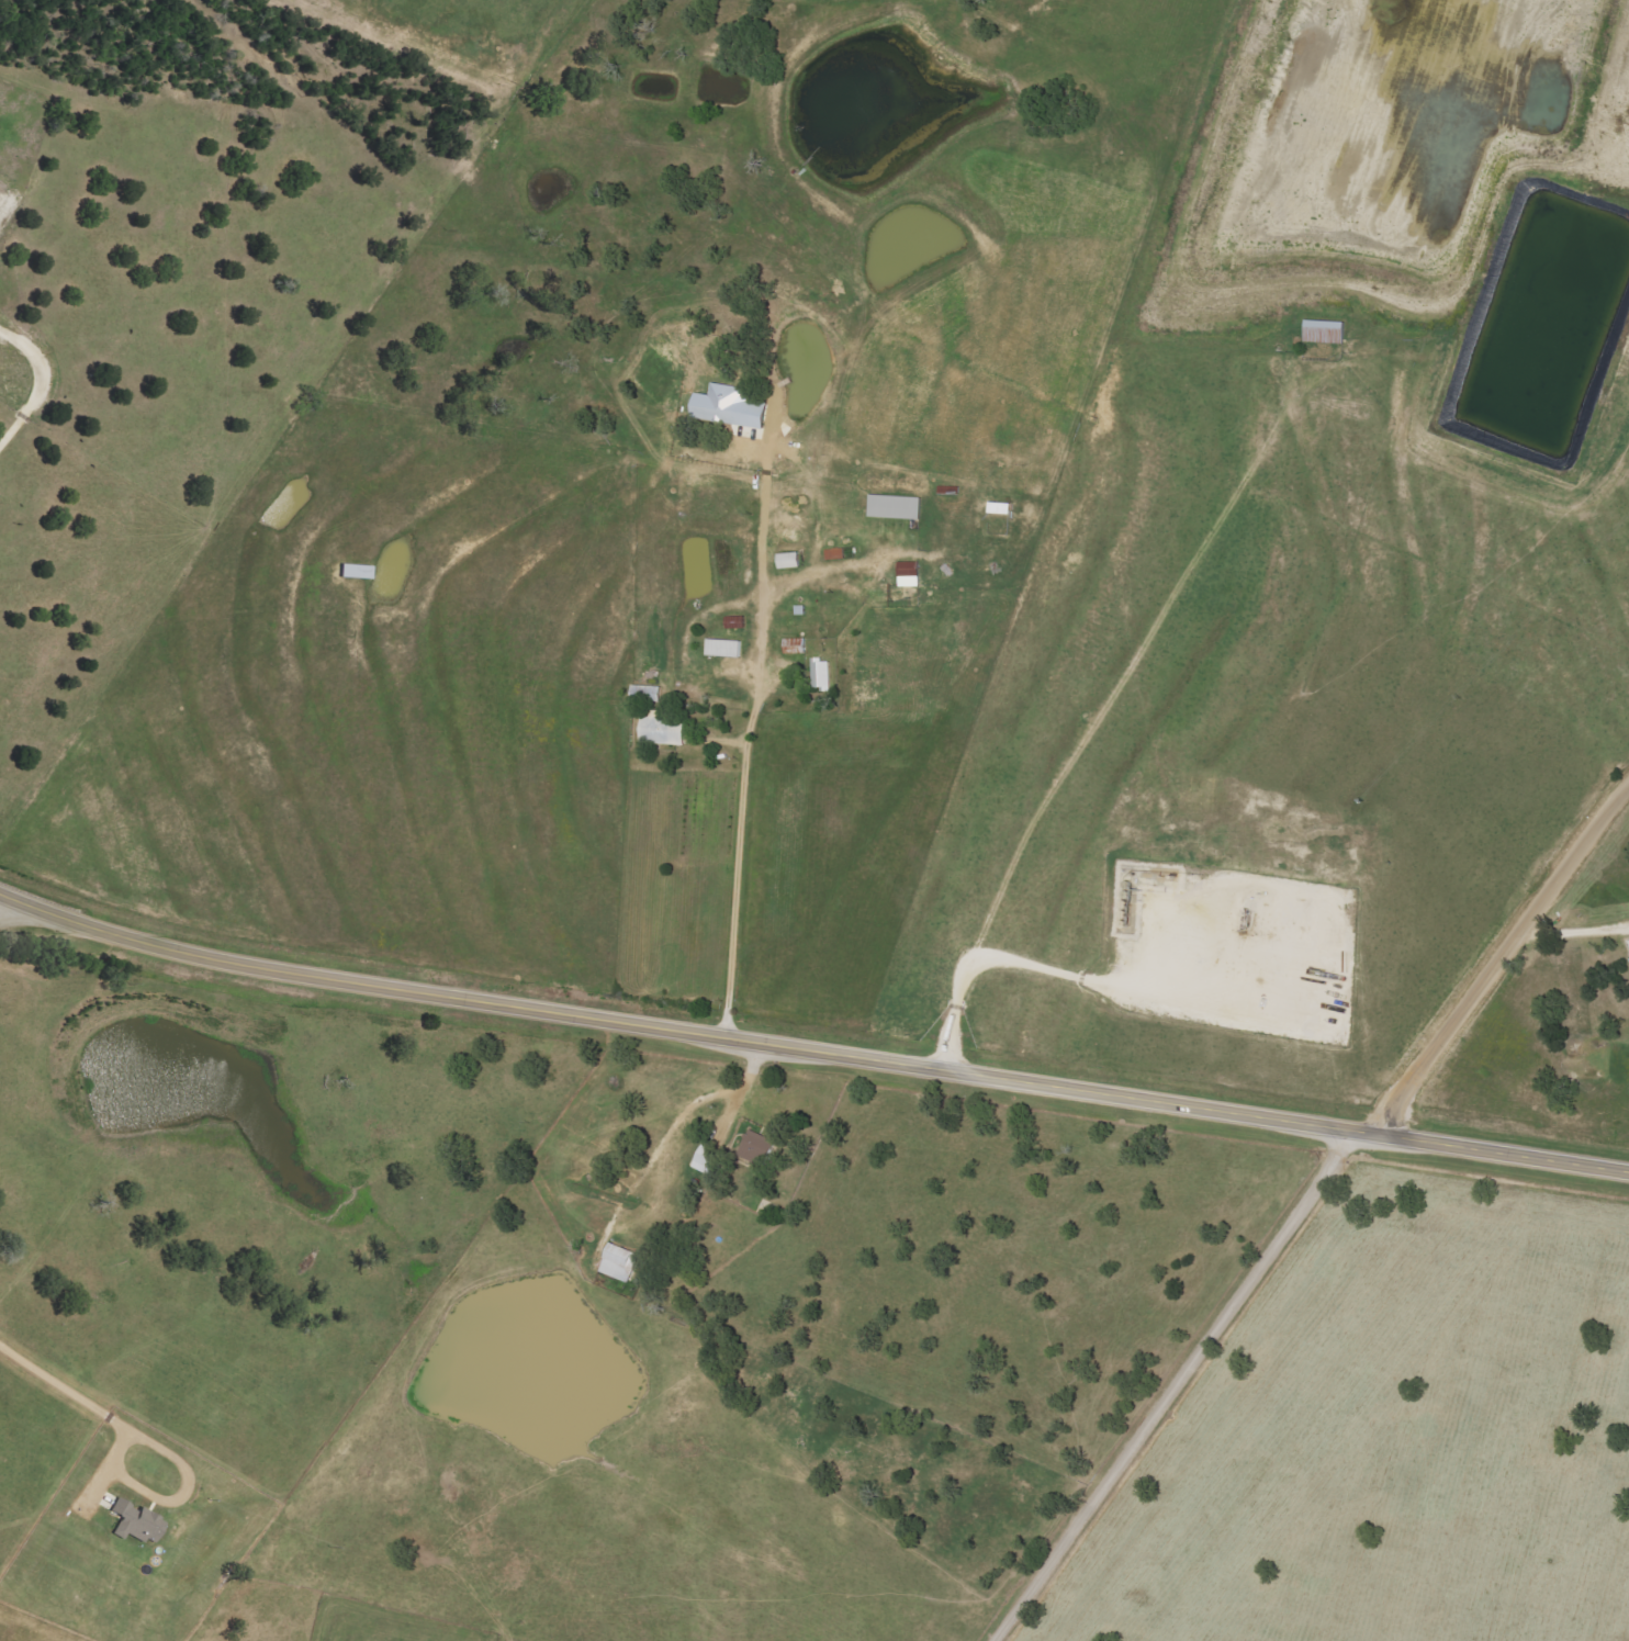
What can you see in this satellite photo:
building: (1323, 333)
building: (733, 408)
building: (899, 507)
building: (1003, 508)
building: (838, 554)
building: (793, 561)
building: (912, 573)
building: (739, 626)
building: (798, 647)
building: (729, 649)
building: (824, 675)
building: (669, 732)
road: (738, 855)
road: (10, 908)
road: (1499, 955)
building: (1628, 958)
road: (809, 1049)
building: (754, 1147)
building: (704, 1159)
building: (618, 1262)
road: (1175, 1383)
road: (64, 1387)
road: (170, 1499)
building: (139, 1522)

